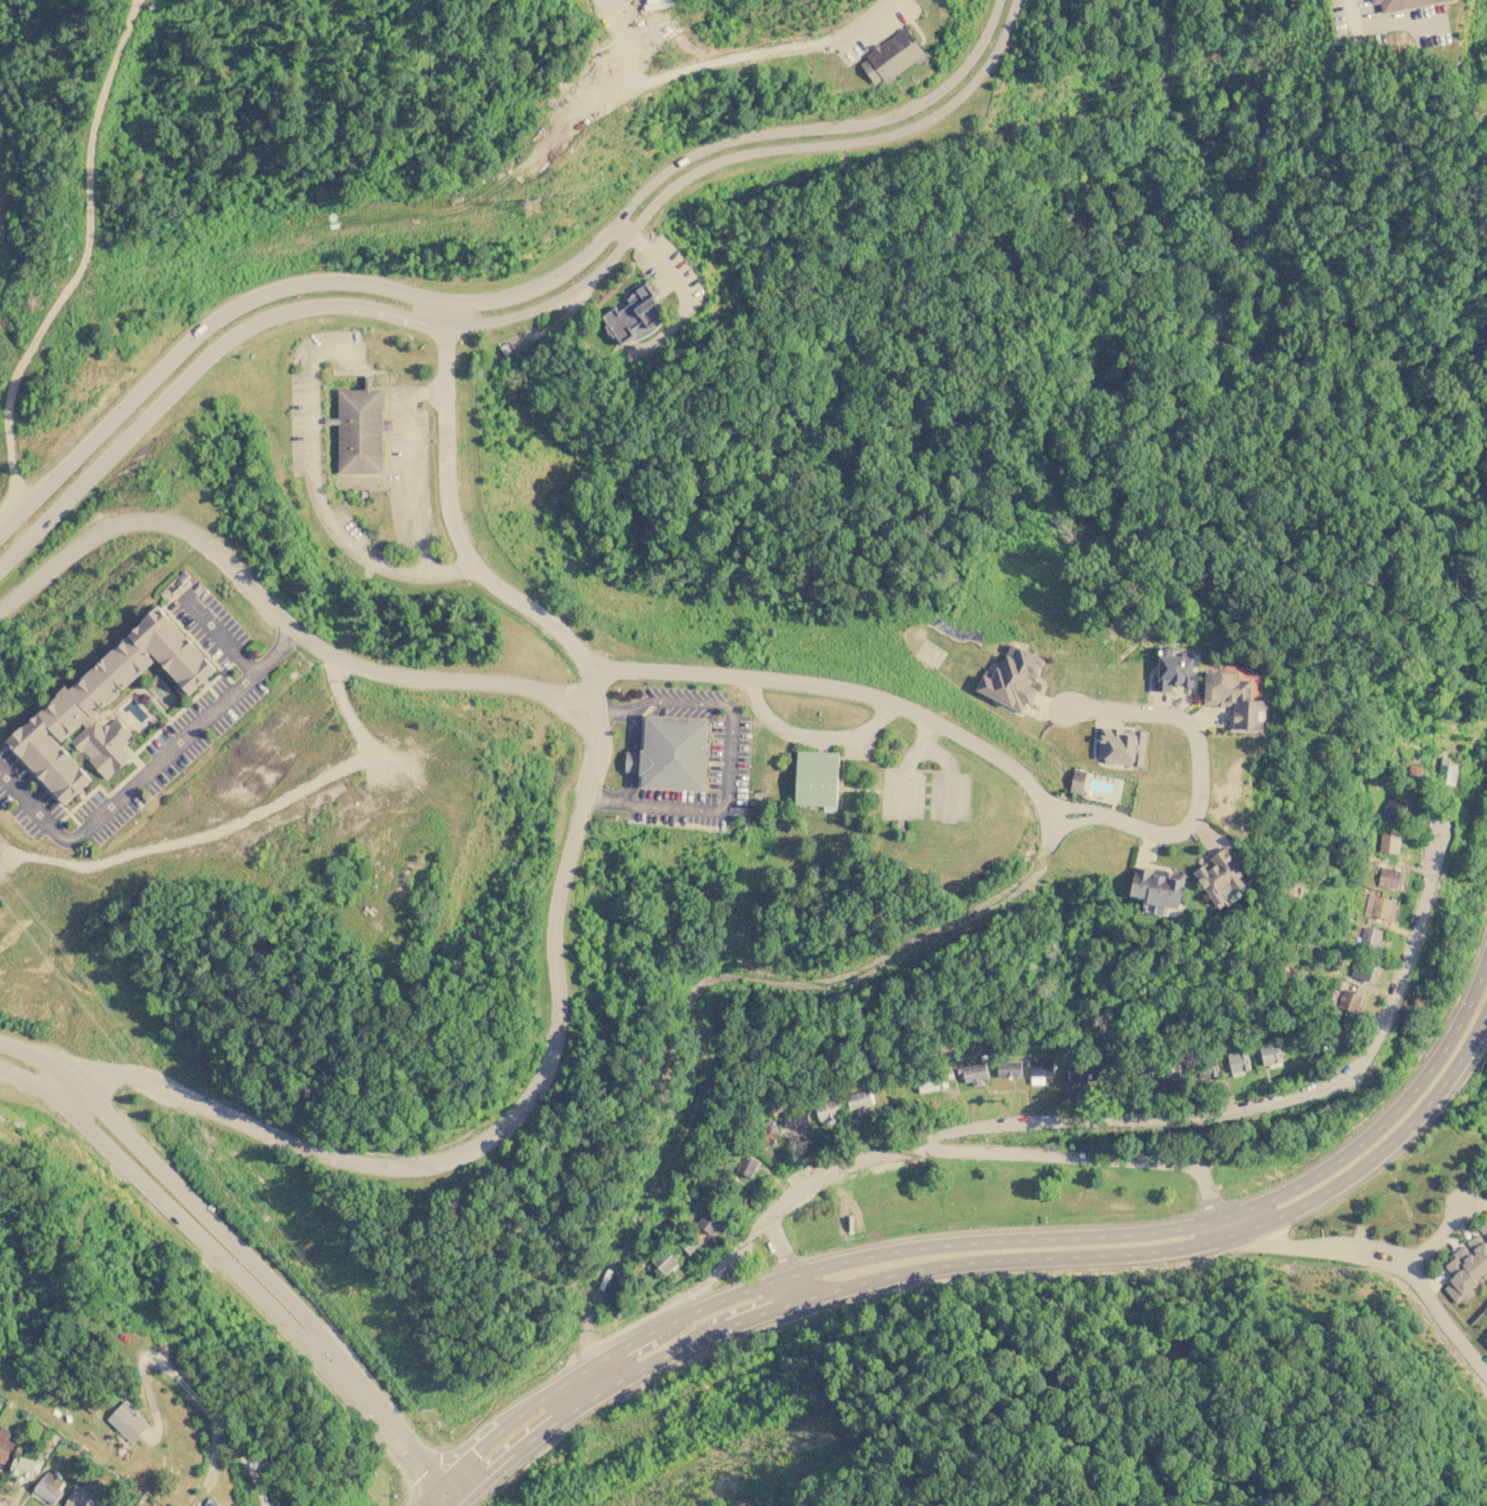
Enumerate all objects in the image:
building: (1405, 4)
road: (1390, 21)
road: (860, 27)
building: (893, 57)
road: (797, 131)
road: (736, 156)
road: (85, 262)
road: (684, 287)
road: (252, 300)
building: (635, 314)
road: (192, 371)
building: (361, 429)
road: (408, 465)
road: (317, 497)
road: (155, 520)
road: (216, 634)
building: (1171, 669)
road: (644, 671)
building: (1012, 678)
road: (443, 681)
park: (163, 694)
building: (1243, 698)
building: (105, 707)
road: (813, 736)
building: (1120, 745)
building: (675, 754)
road: (1201, 757)
road: (632, 759)
building: (634, 763)
road: (904, 764)
road: (729, 765)
building: (1418, 769)
building: (1445, 771)
road: (146, 773)
road: (949, 777)
building: (818, 780)
building: (1077, 781)
road: (1075, 807)
building: (1393, 809)
road: (1077, 822)
building: (1388, 842)
building: (1387, 876)
building: (1229, 880)
building: (1163, 889)
building: (1378, 906)
building: (1370, 937)
building: (1360, 971)
road: (702, 987)
building: (1349, 1000)
building: (1237, 1061)
building: (1008, 1068)
building: (1207, 1069)
building: (1039, 1070)
building: (974, 1073)
building: (1075, 1073)
building: (933, 1082)
building: (858, 1099)
building: (827, 1111)
building: (795, 1118)
road: (1112, 1126)
road: (500, 1128)
road: (1078, 1161)
building: (747, 1165)
building: (708, 1223)
road: (1436, 1238)
building: (691, 1243)
road: (988, 1247)
road: (1378, 1258)
building: (664, 1261)
road: (785, 1261)
building: (1467, 1265)
road: (1008, 1269)
building: (1486, 1337)
road: (324, 1348)
road: (599, 1366)
road: (188, 1390)
building: (93, 1407)
building: (129, 1420)
road: (389, 1428)
building: (5, 1443)
building: (24, 1467)
building: (50, 1486)
traffic signals: (439, 1487)
road: (464, 1488)
road: (475, 1493)
building: (79, 1500)
road: (426, 1500)
traffic signals: (451, 1502)
building: (211, 1503)

